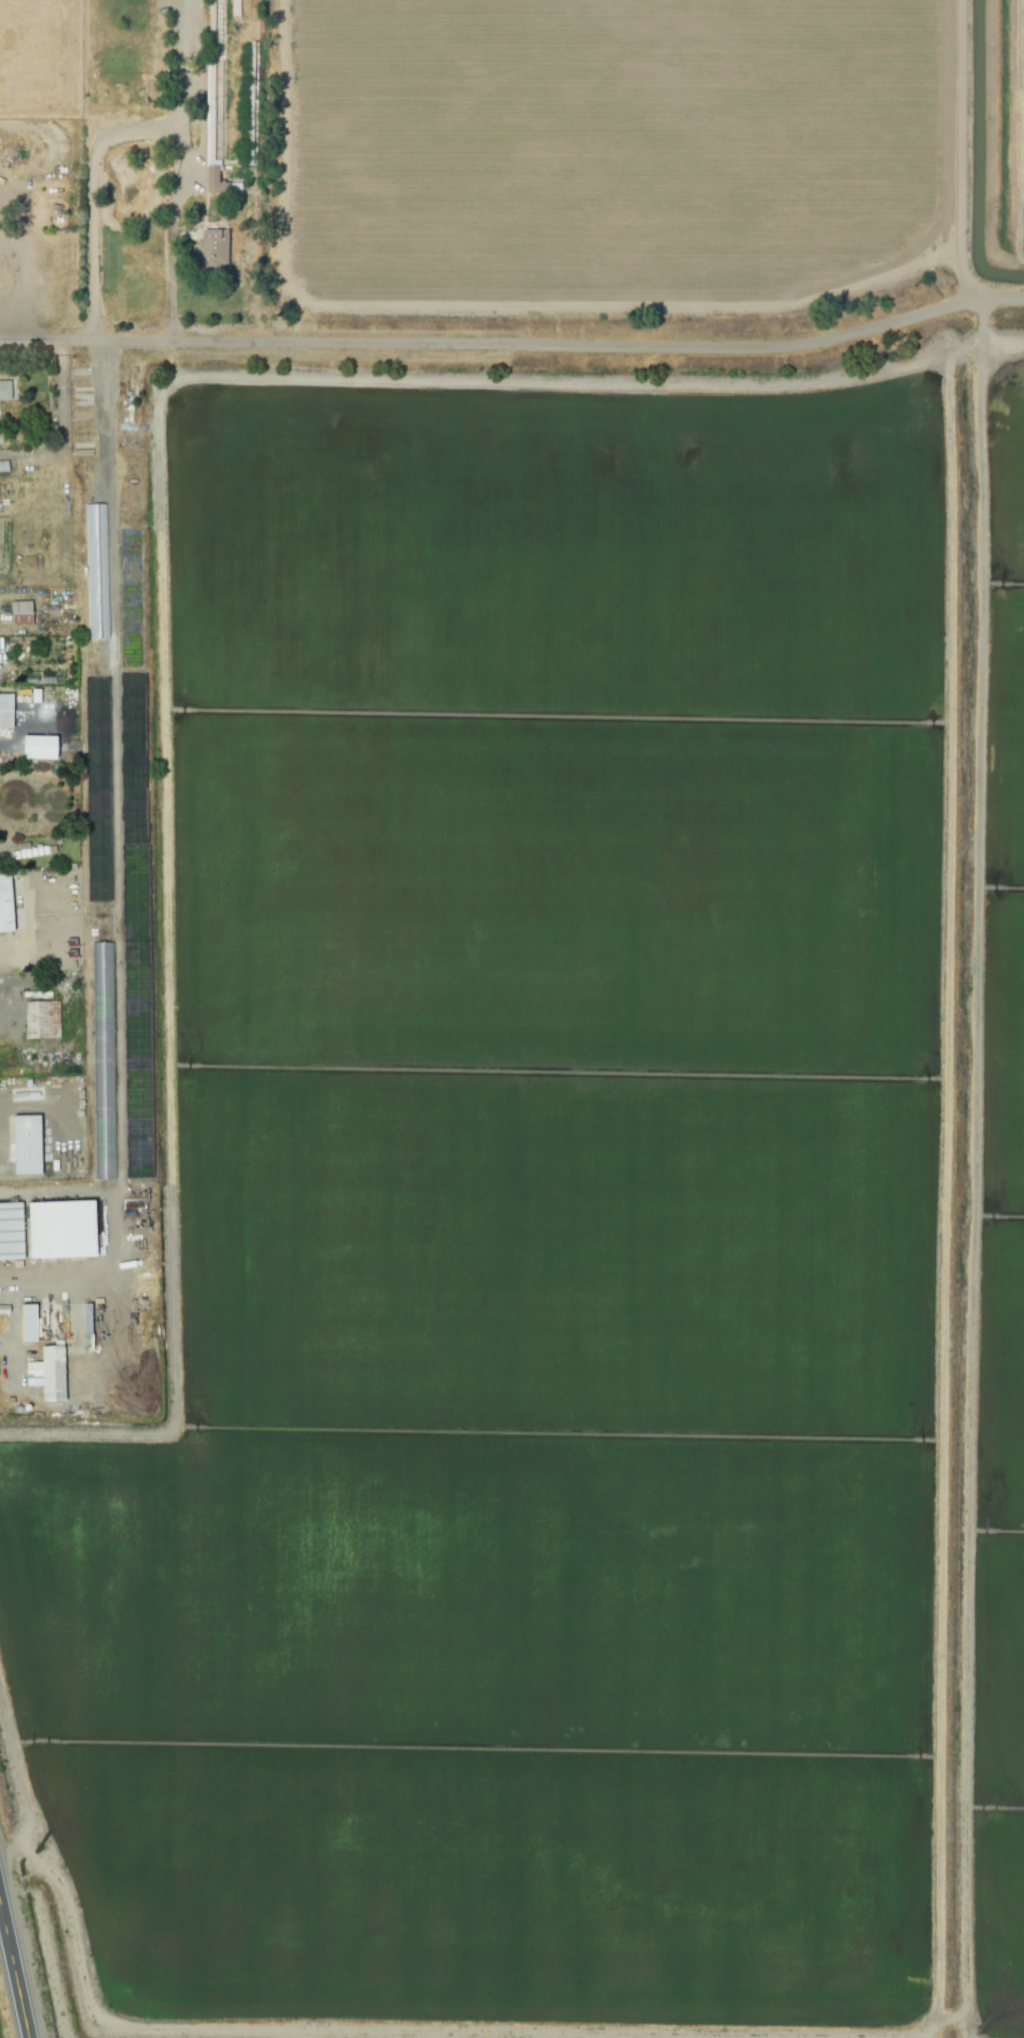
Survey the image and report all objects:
road: (100, 142)
road: (971, 169)
building: (213, 180)
road: (171, 230)
building: (210, 249)
road: (20, 286)
road: (513, 361)
building: (6, 390)
building: (24, 613)
building: (7, 710)
building: (42, 747)
road: (115, 862)
building: (7, 902)
building: (44, 1020)
building: (103, 1061)
building: (30, 1145)
building: (68, 1230)
building: (13, 1231)
building: (31, 1323)
building: (51, 1374)
road: (13, 1976)

